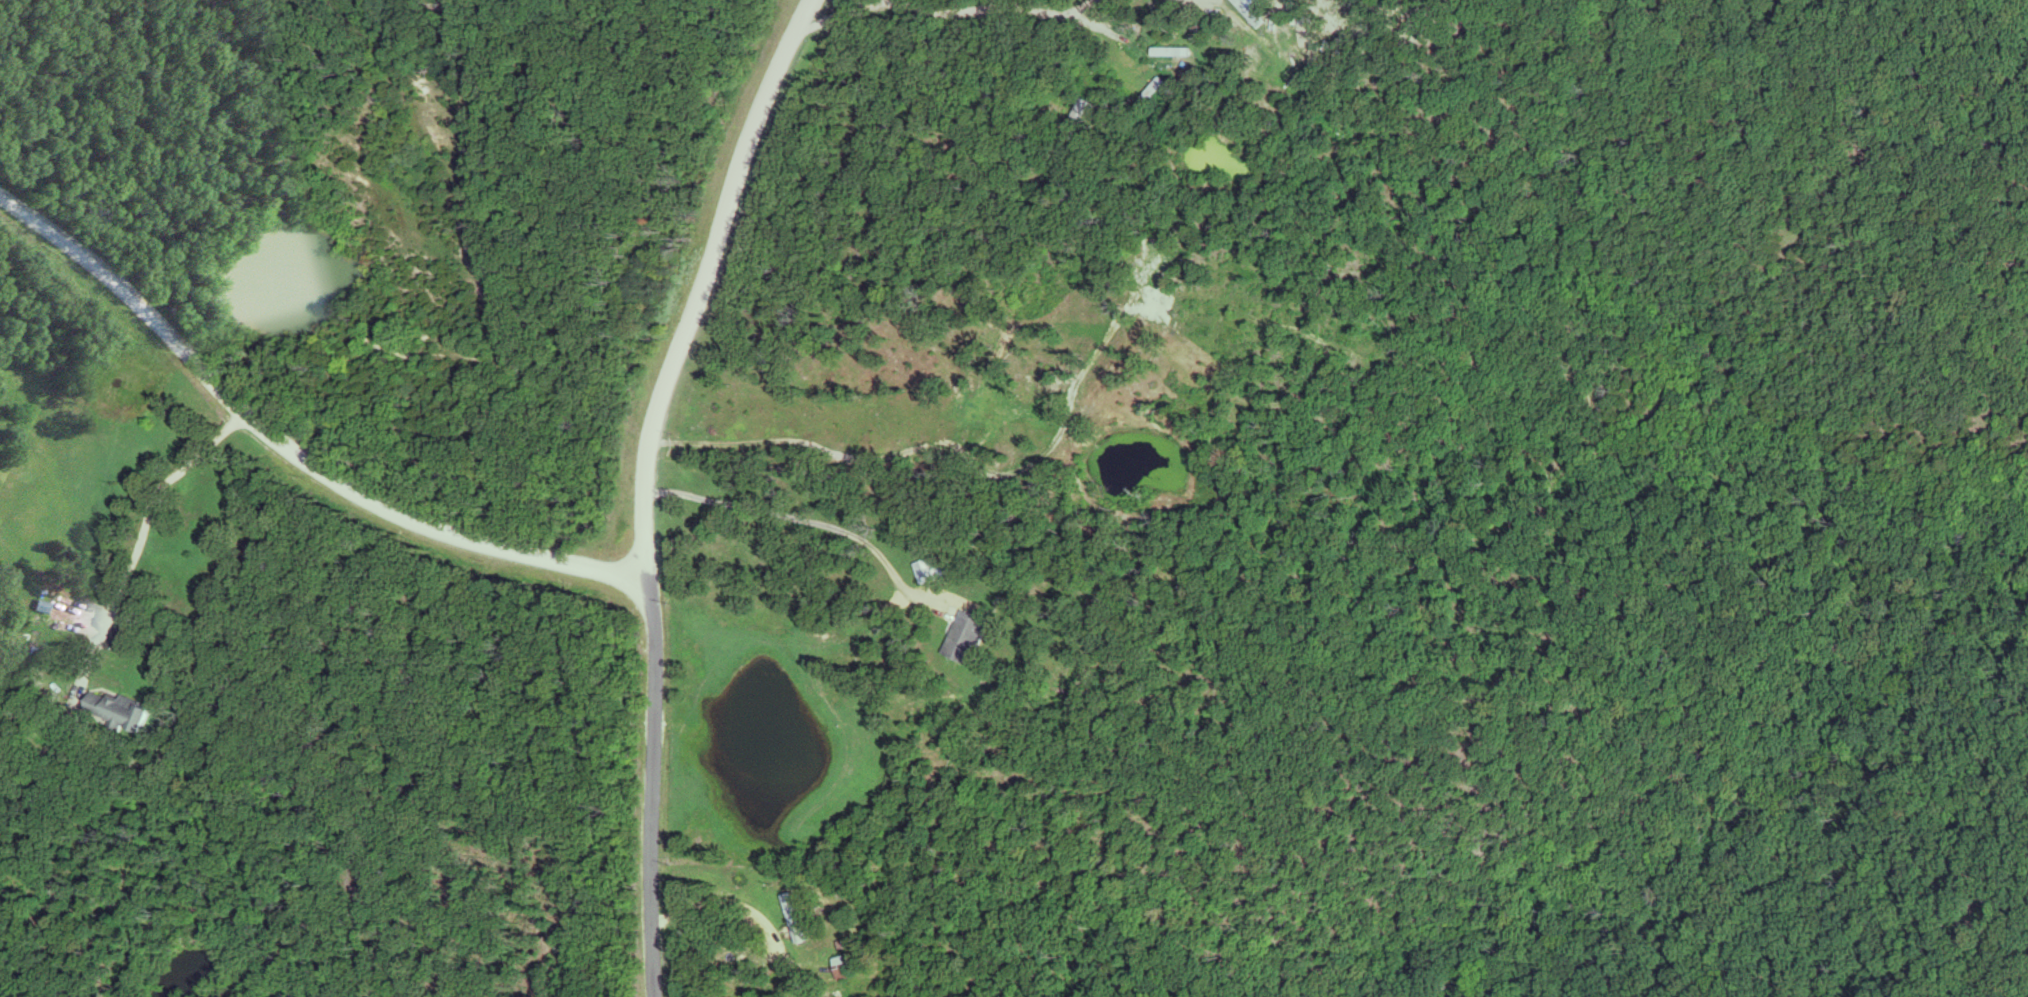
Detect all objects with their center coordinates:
road: (1008, 12)
building: (1322, 32)
building: (1167, 52)
building: (1147, 90)
road: (288, 452)
road: (647, 484)
road: (148, 510)
road: (817, 524)
building: (921, 572)
building: (53, 609)
building: (960, 638)
building: (111, 711)
building: (789, 918)
building: (835, 969)

